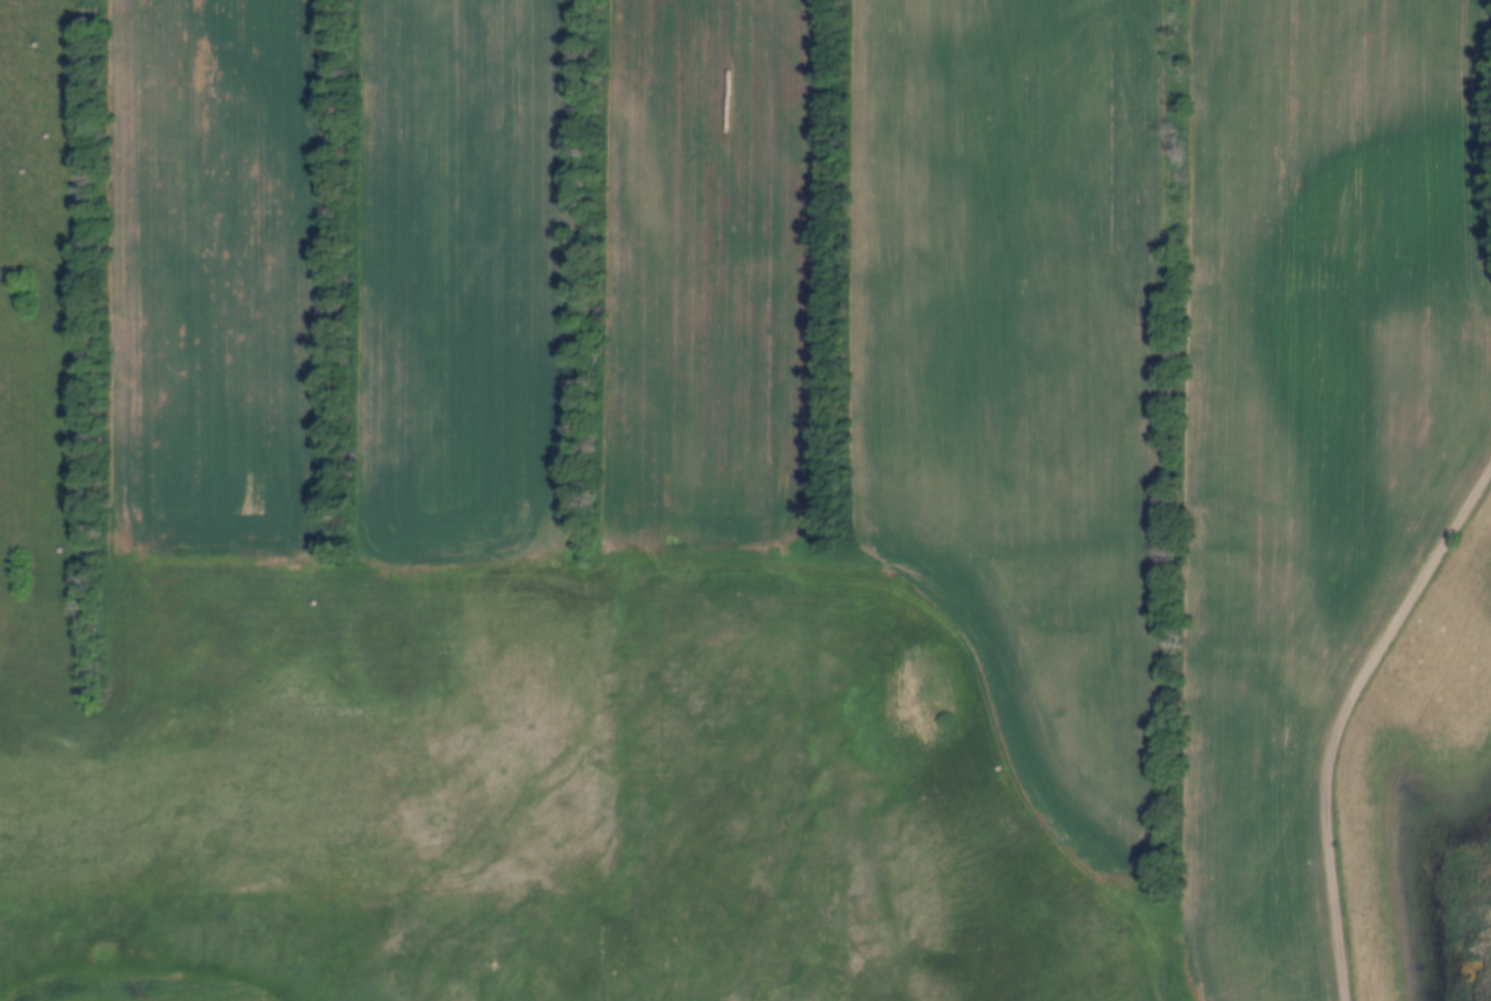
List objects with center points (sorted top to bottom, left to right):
road: (1339, 712)

